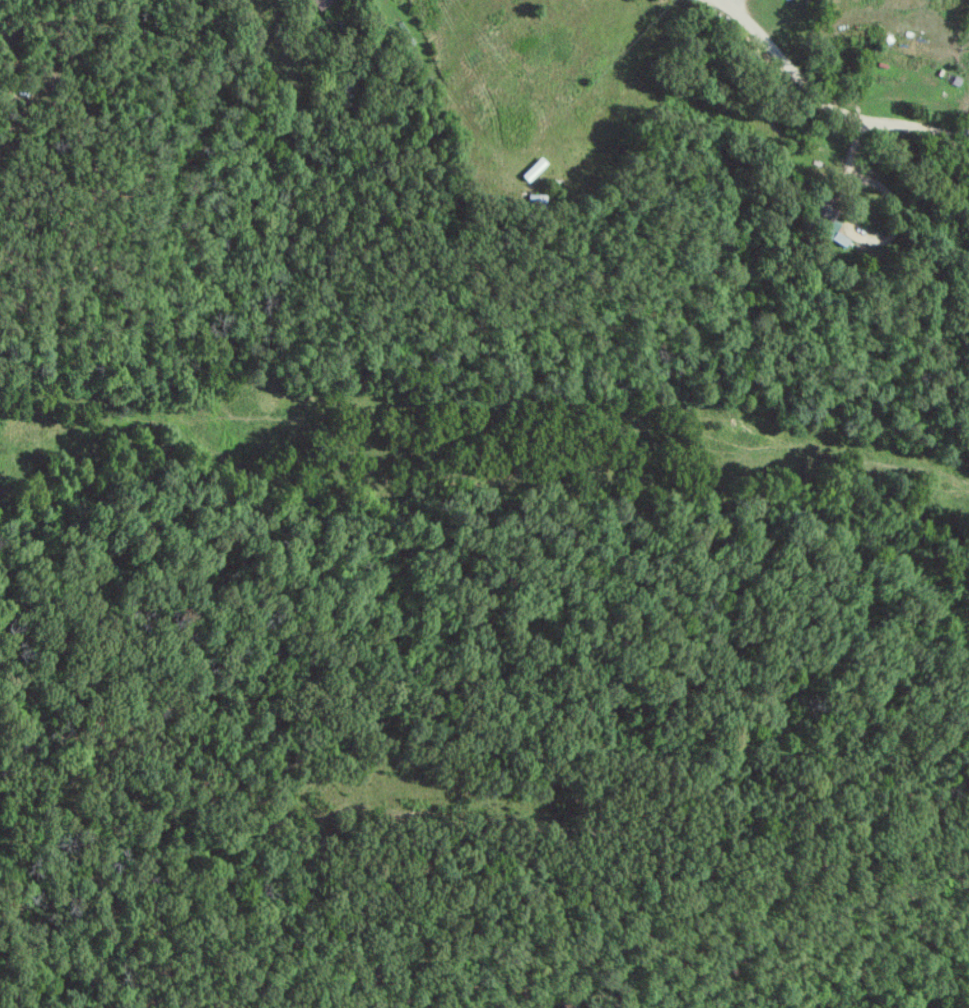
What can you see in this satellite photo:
road: (829, 101)
building: (826, 222)

